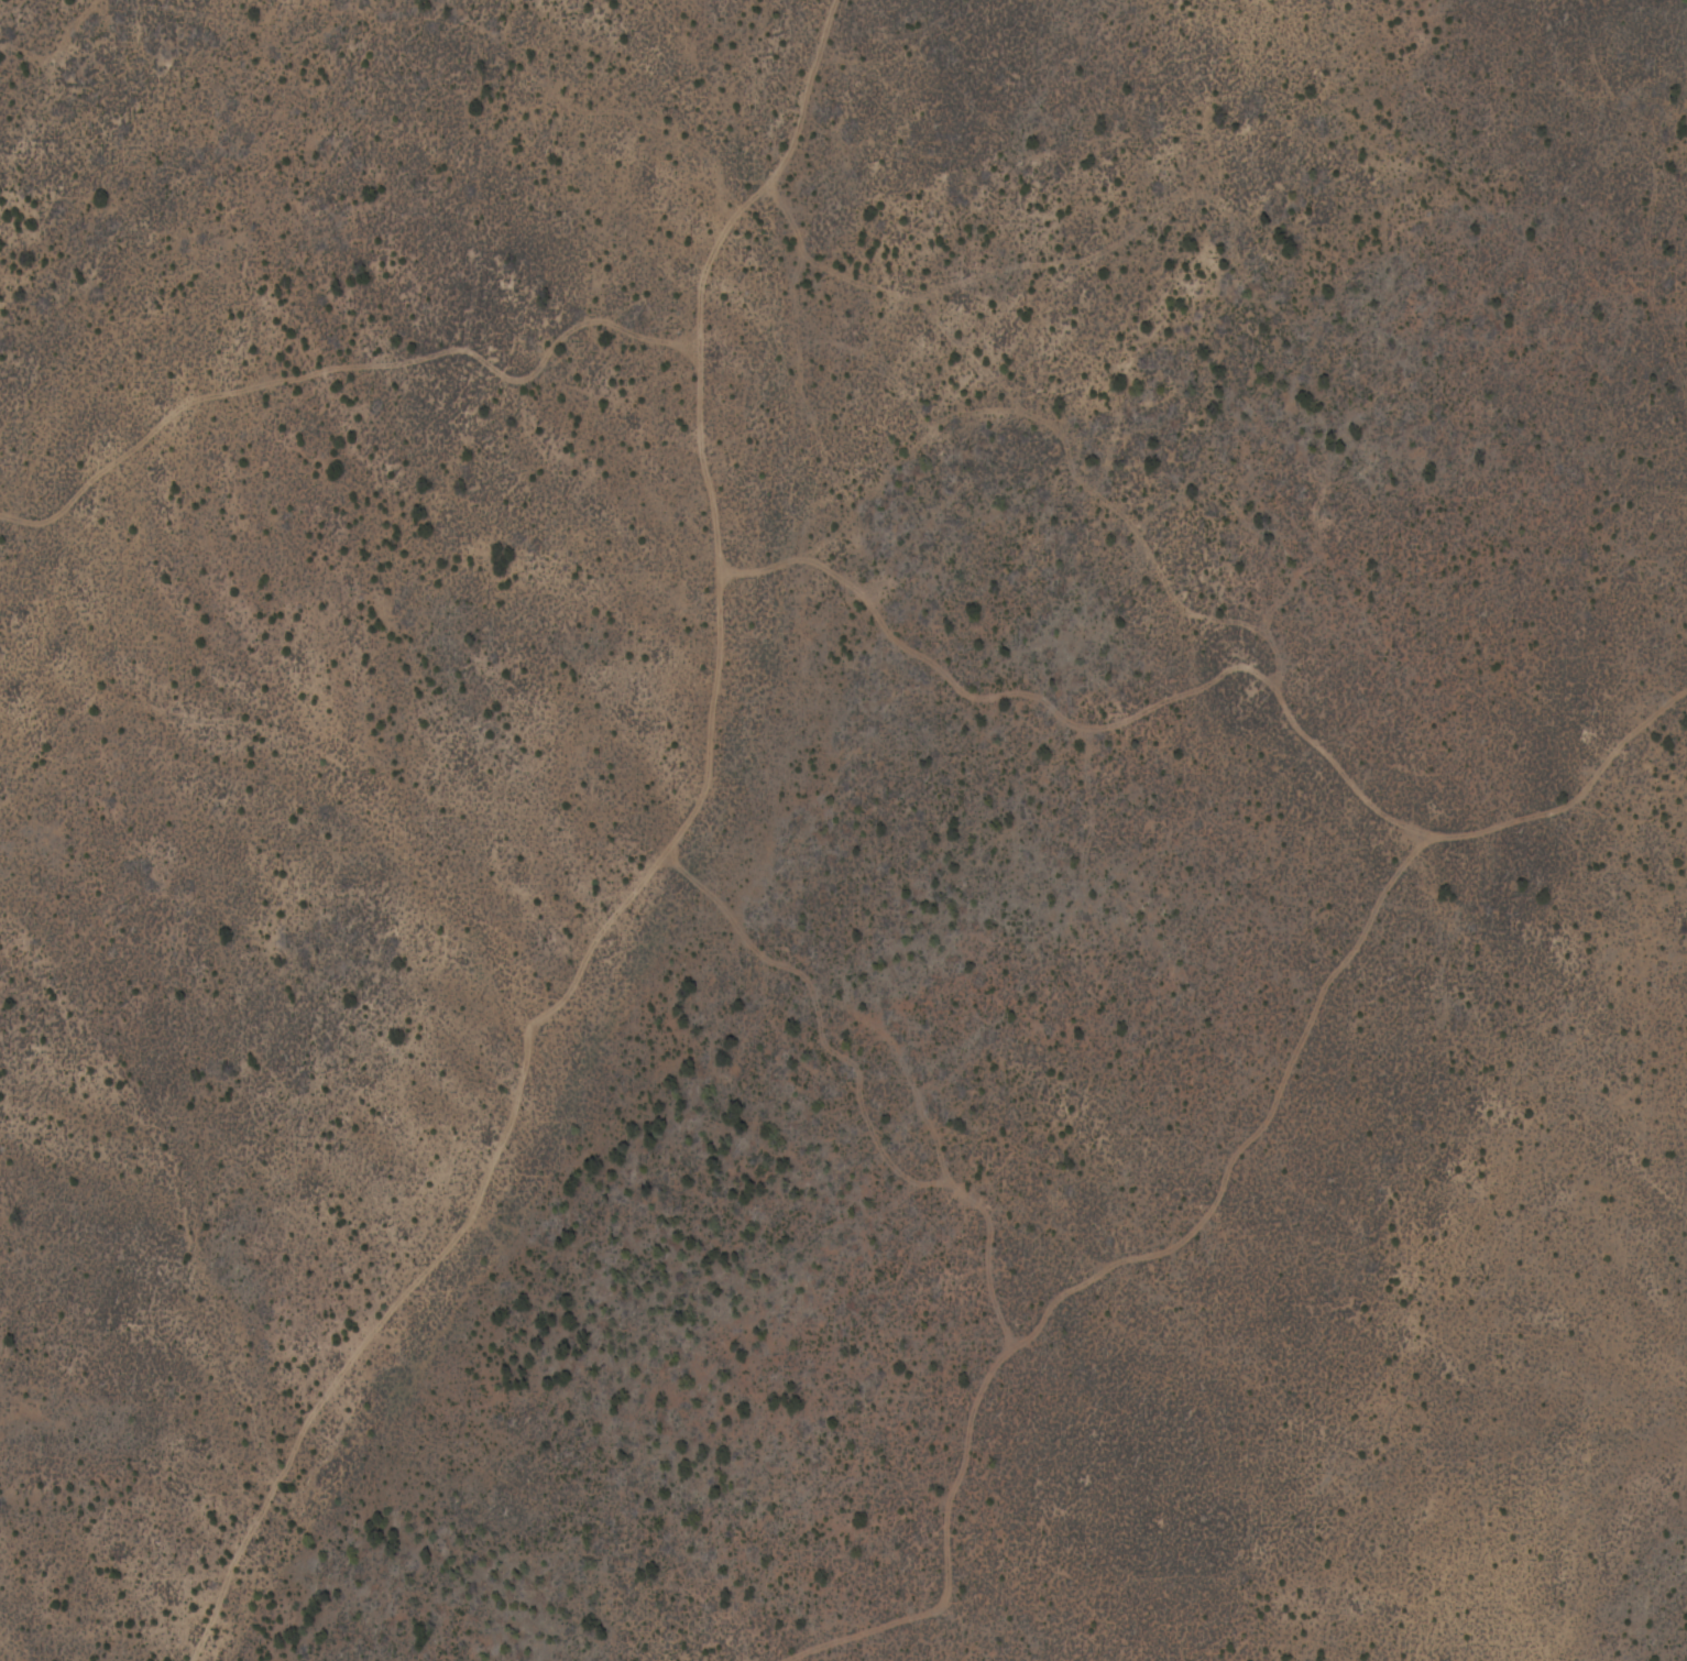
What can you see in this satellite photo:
road: (975, 630)
road: (510, 1117)

